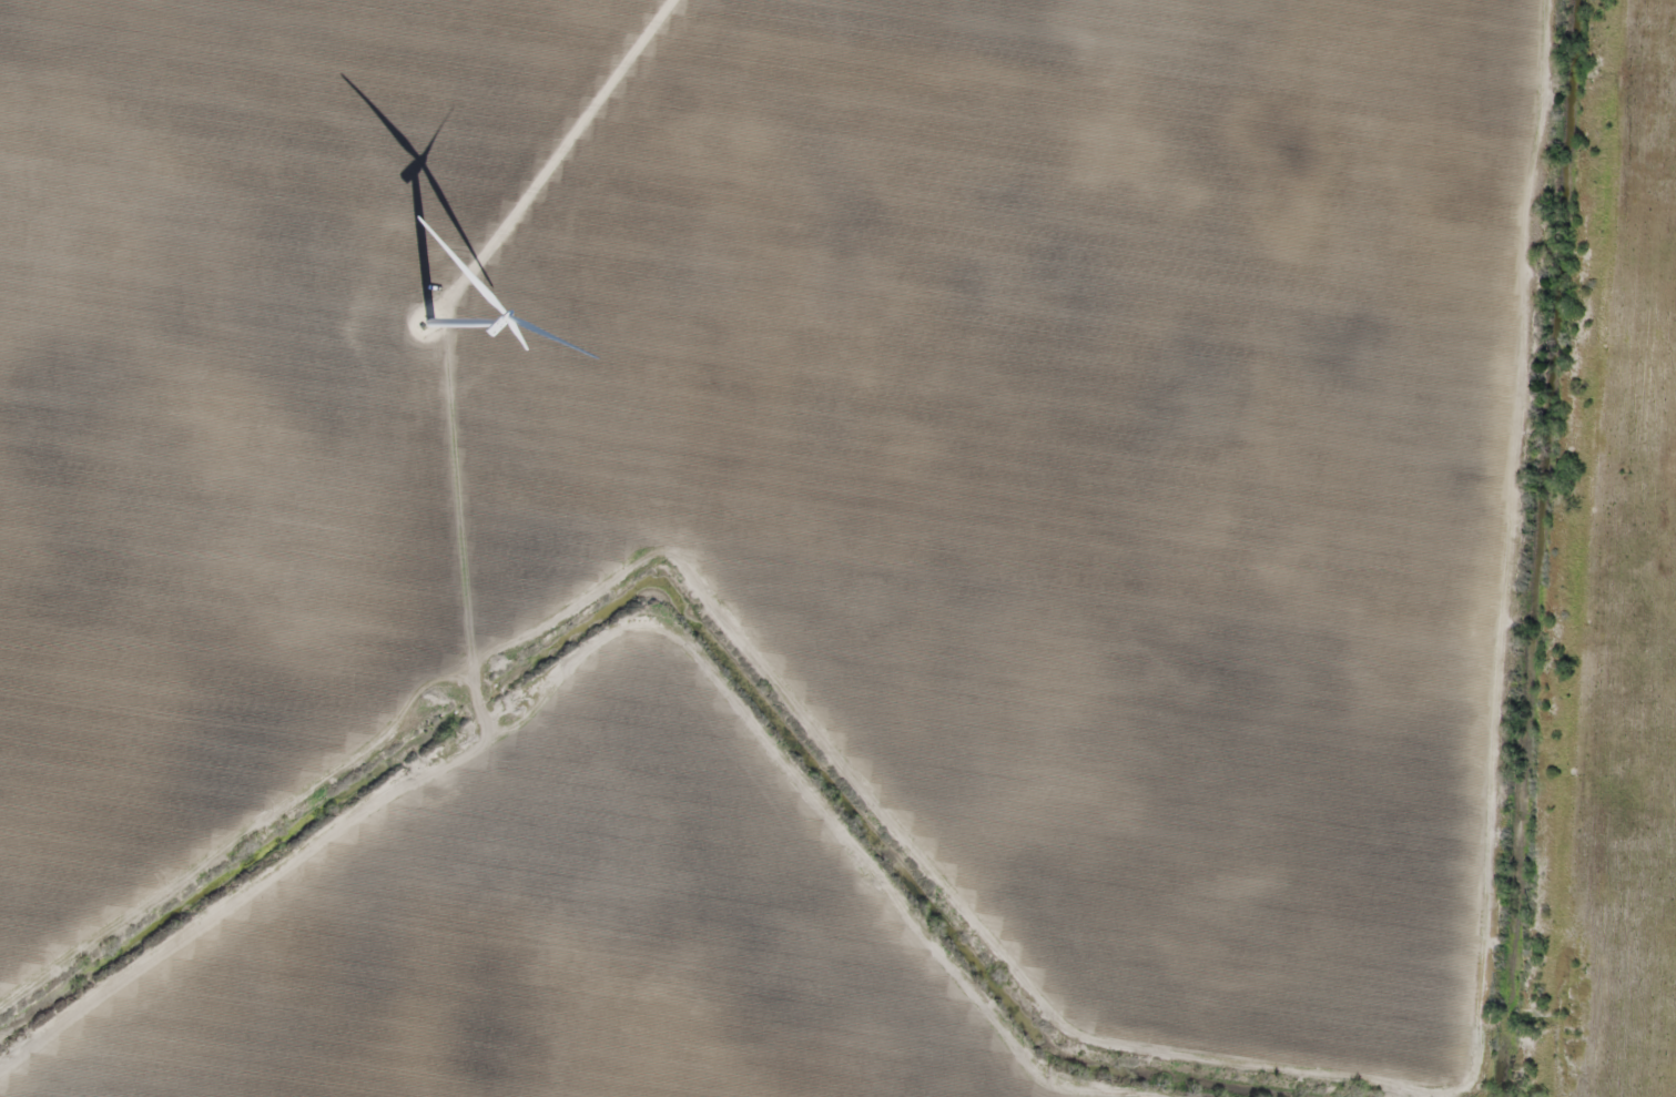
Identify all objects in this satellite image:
river: (830, 12)
wind turbine: (430, 322)

